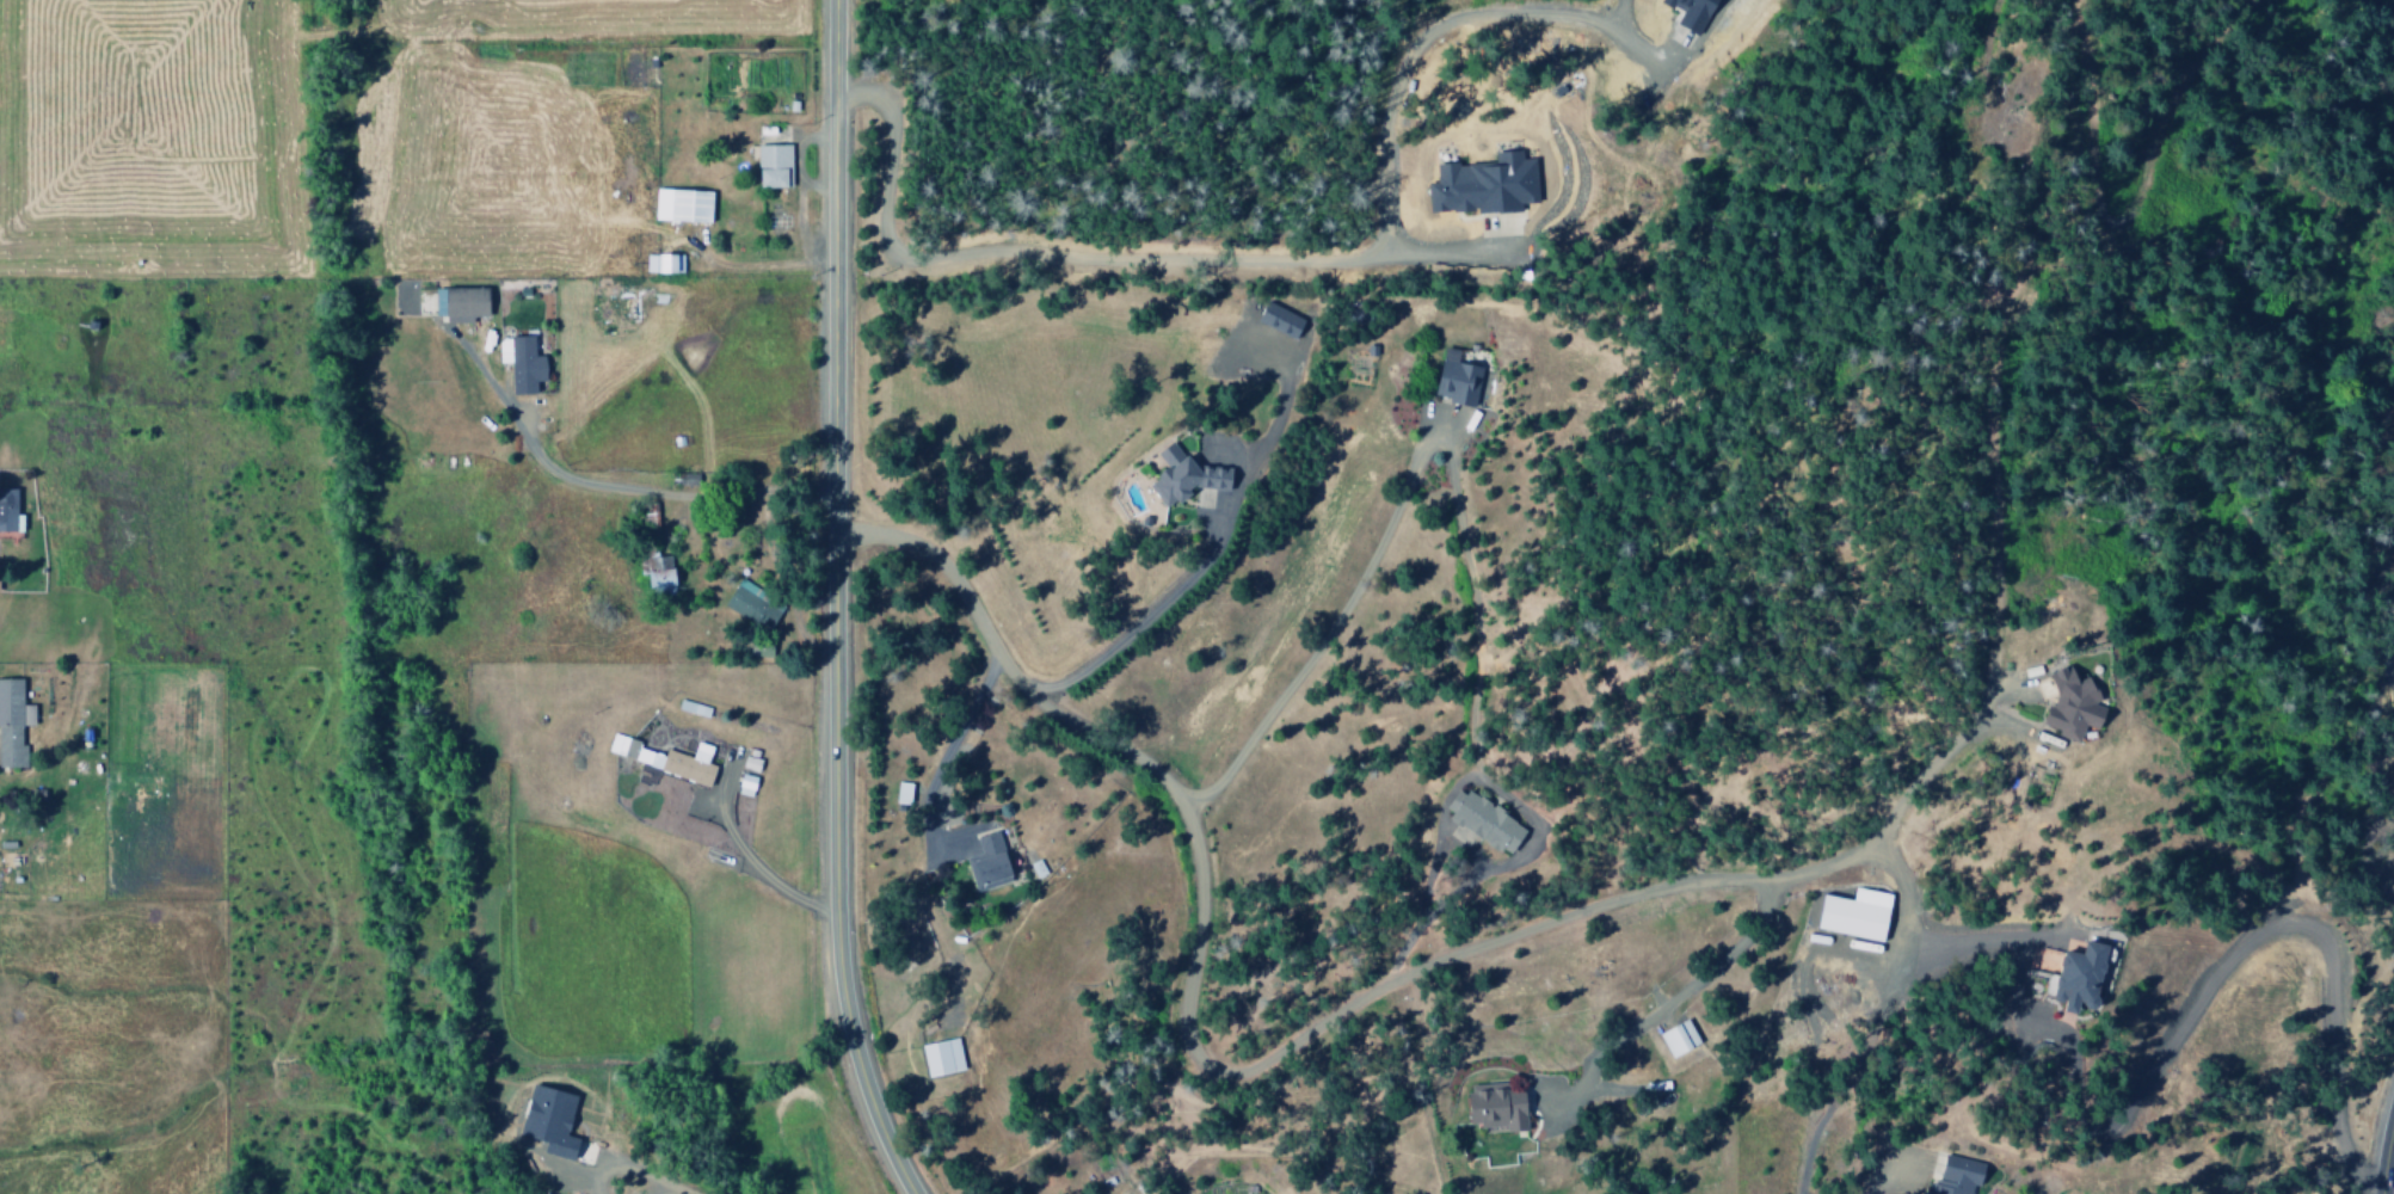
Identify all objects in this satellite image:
building: (1685, 12)
building: (769, 165)
building: (1478, 184)
building: (677, 204)
building: (659, 263)
building: (457, 303)
building: (498, 350)
building: (519, 364)
building: (1450, 378)
building: (1173, 473)
road: (1992, 478)
building: (7, 511)
building: (654, 576)
road: (830, 603)
building: (749, 605)
building: (756, 648)
building: (2066, 704)
building: (11, 722)
building: (660, 758)
building: (741, 784)
building: (898, 793)
building: (1476, 820)
building: (983, 863)
building: (1848, 913)
road: (1913, 934)
building: (2069, 975)
road: (2214, 984)
building: (1673, 1038)
road: (1286, 1047)
building: (936, 1057)
road: (1858, 1069)
building: (1489, 1107)
building: (543, 1121)
road: (2383, 1147)
building: (1946, 1175)
road: (1878, 1183)

